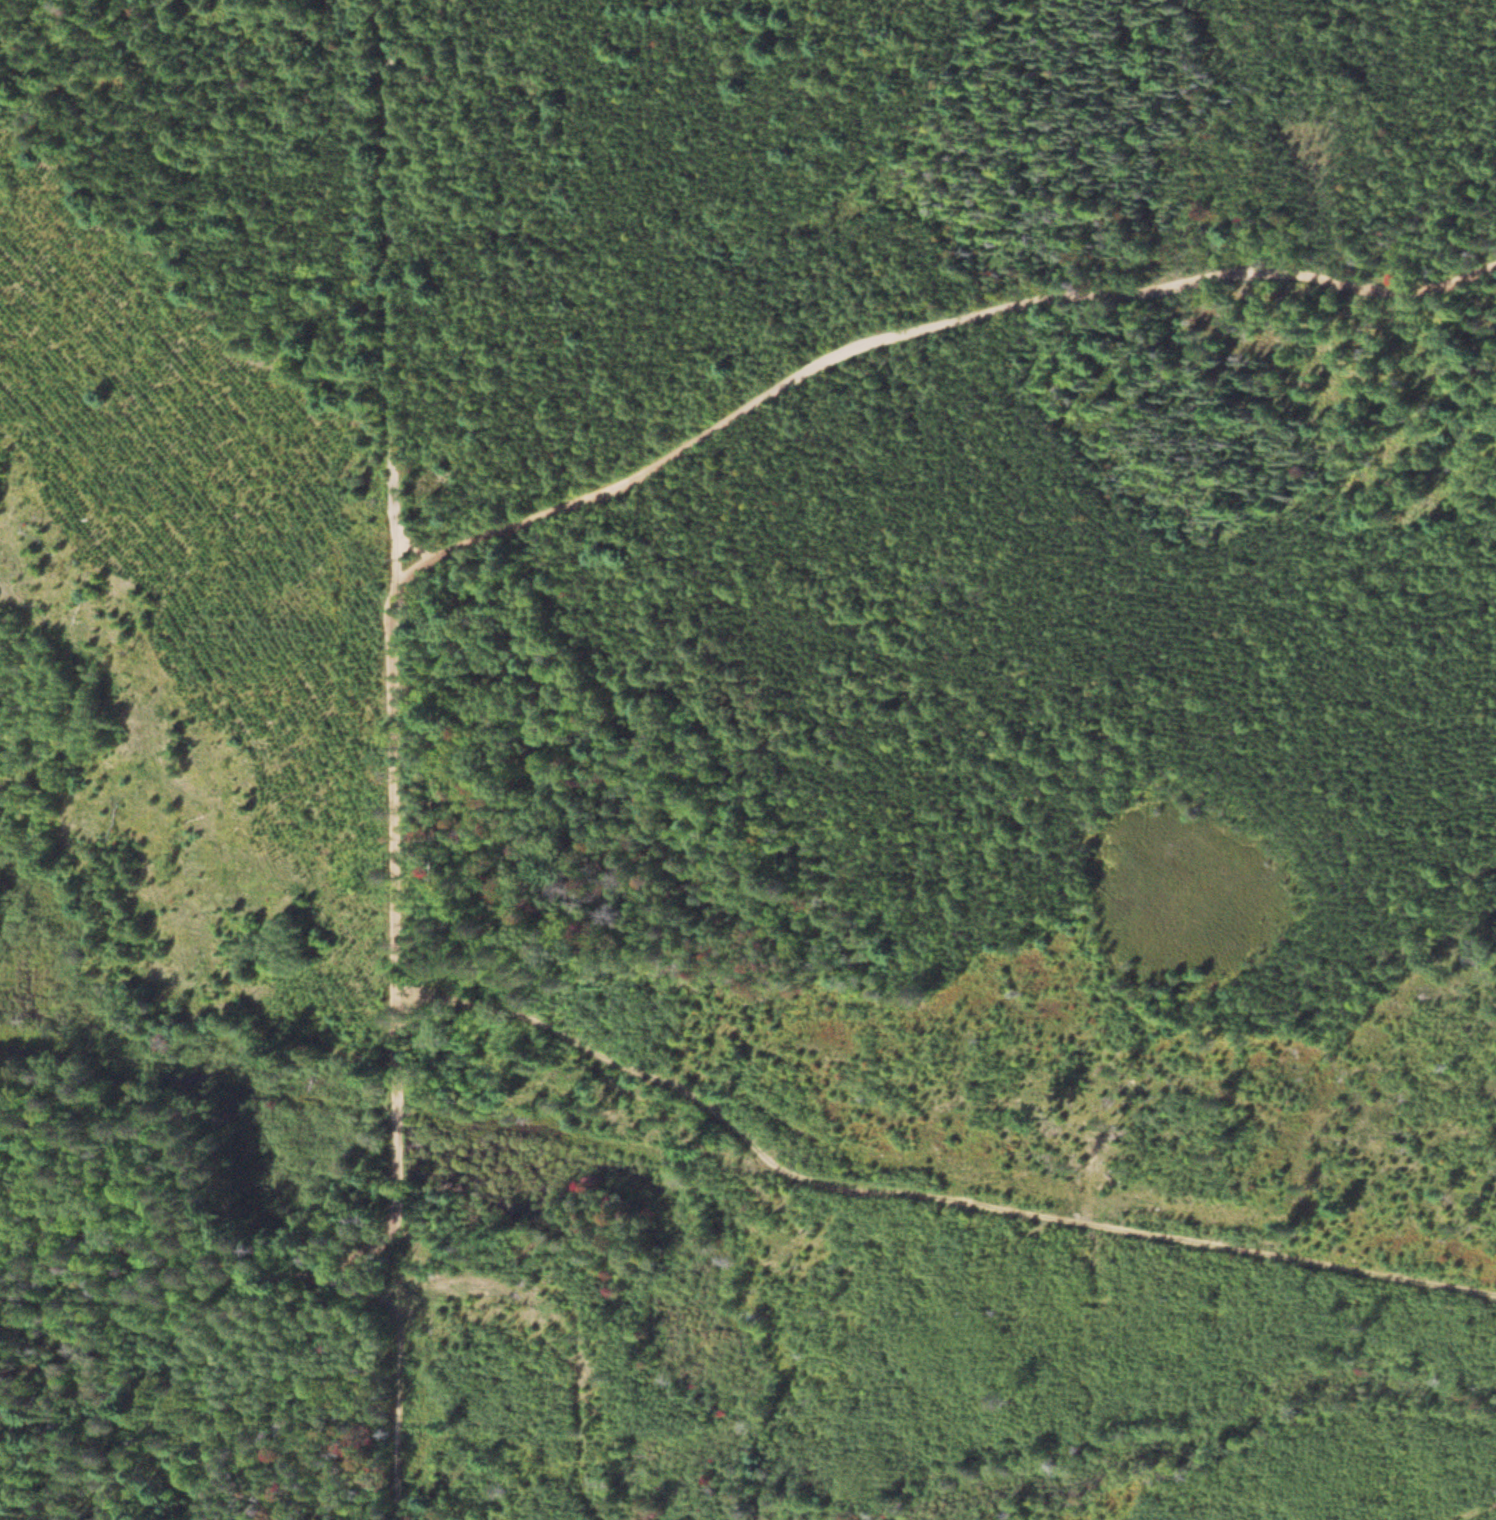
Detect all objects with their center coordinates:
road: (930, 335)
road: (407, 760)
road: (929, 1193)
road: (209, 1333)

